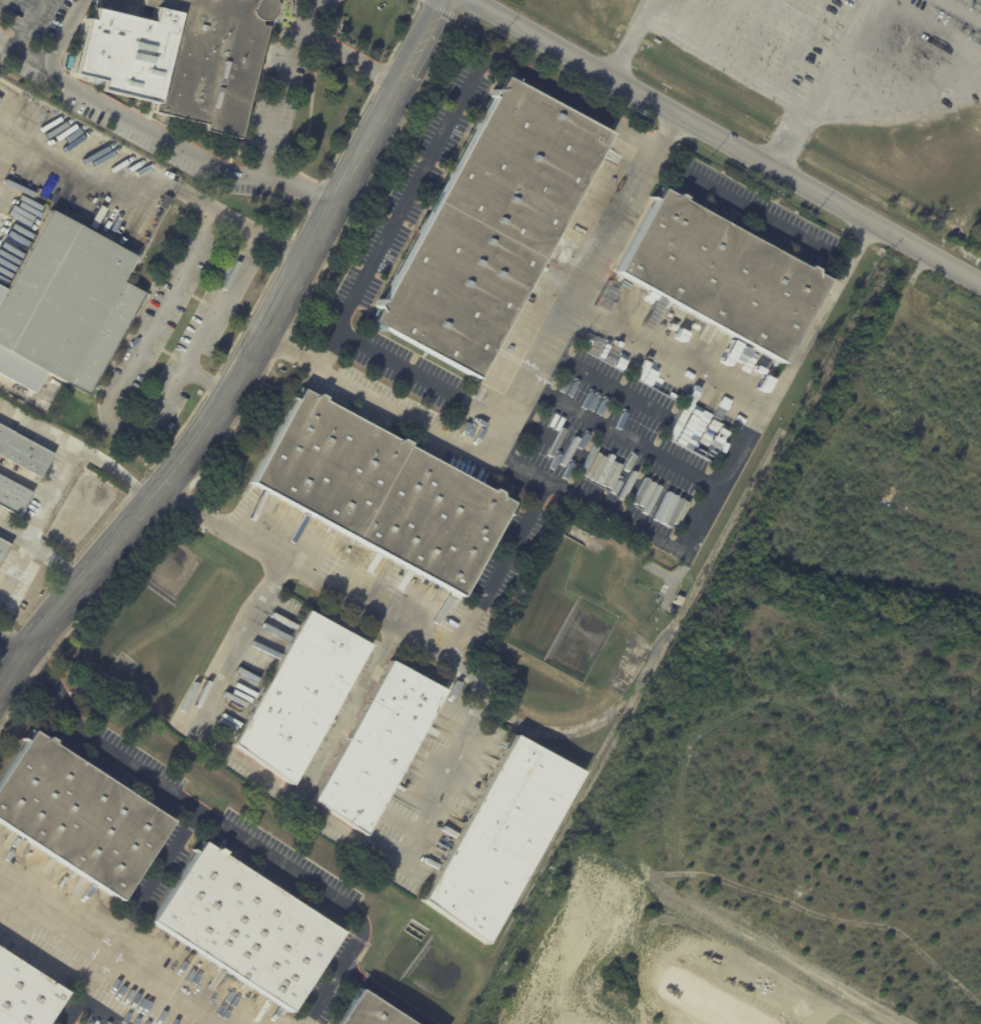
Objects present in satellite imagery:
building: (281, 0)
road: (648, 7)
road: (961, 11)
road: (684, 16)
road: (26, 24)
road: (719, 25)
road: (935, 25)
road: (64, 33)
road: (758, 34)
road: (627, 44)
road: (798, 44)
road: (23, 53)
road: (871, 53)
road: (837, 54)
road: (350, 55)
building: (180, 57)
road: (725, 61)
road: (897, 97)
road: (276, 119)
road: (154, 130)
road: (452, 133)
road: (789, 136)
road: (729, 140)
road: (110, 185)
building: (166, 202)
road: (747, 212)
building: (492, 230)
building: (720, 274)
building: (64, 306)
road: (667, 350)
road: (248, 360)
building: (54, 381)
road: (207, 381)
road: (121, 389)
road: (480, 405)
road: (494, 435)
road: (78, 449)
building: (24, 451)
road: (26, 480)
building: (382, 492)
road: (53, 495)
building: (14, 496)
road: (687, 545)
building: (4, 550)
road: (42, 550)
road: (492, 580)
road: (238, 643)
road: (9, 646)
building: (302, 696)
road: (348, 713)
building: (380, 746)
road: (164, 790)
building: (79, 815)
building: (501, 837)
road: (391, 857)
road: (301, 878)
building: (246, 926)
road: (105, 954)
road: (85, 989)
building: (26, 994)
road: (319, 994)
road: (382, 994)
road: (102, 1010)
building: (371, 1011)

